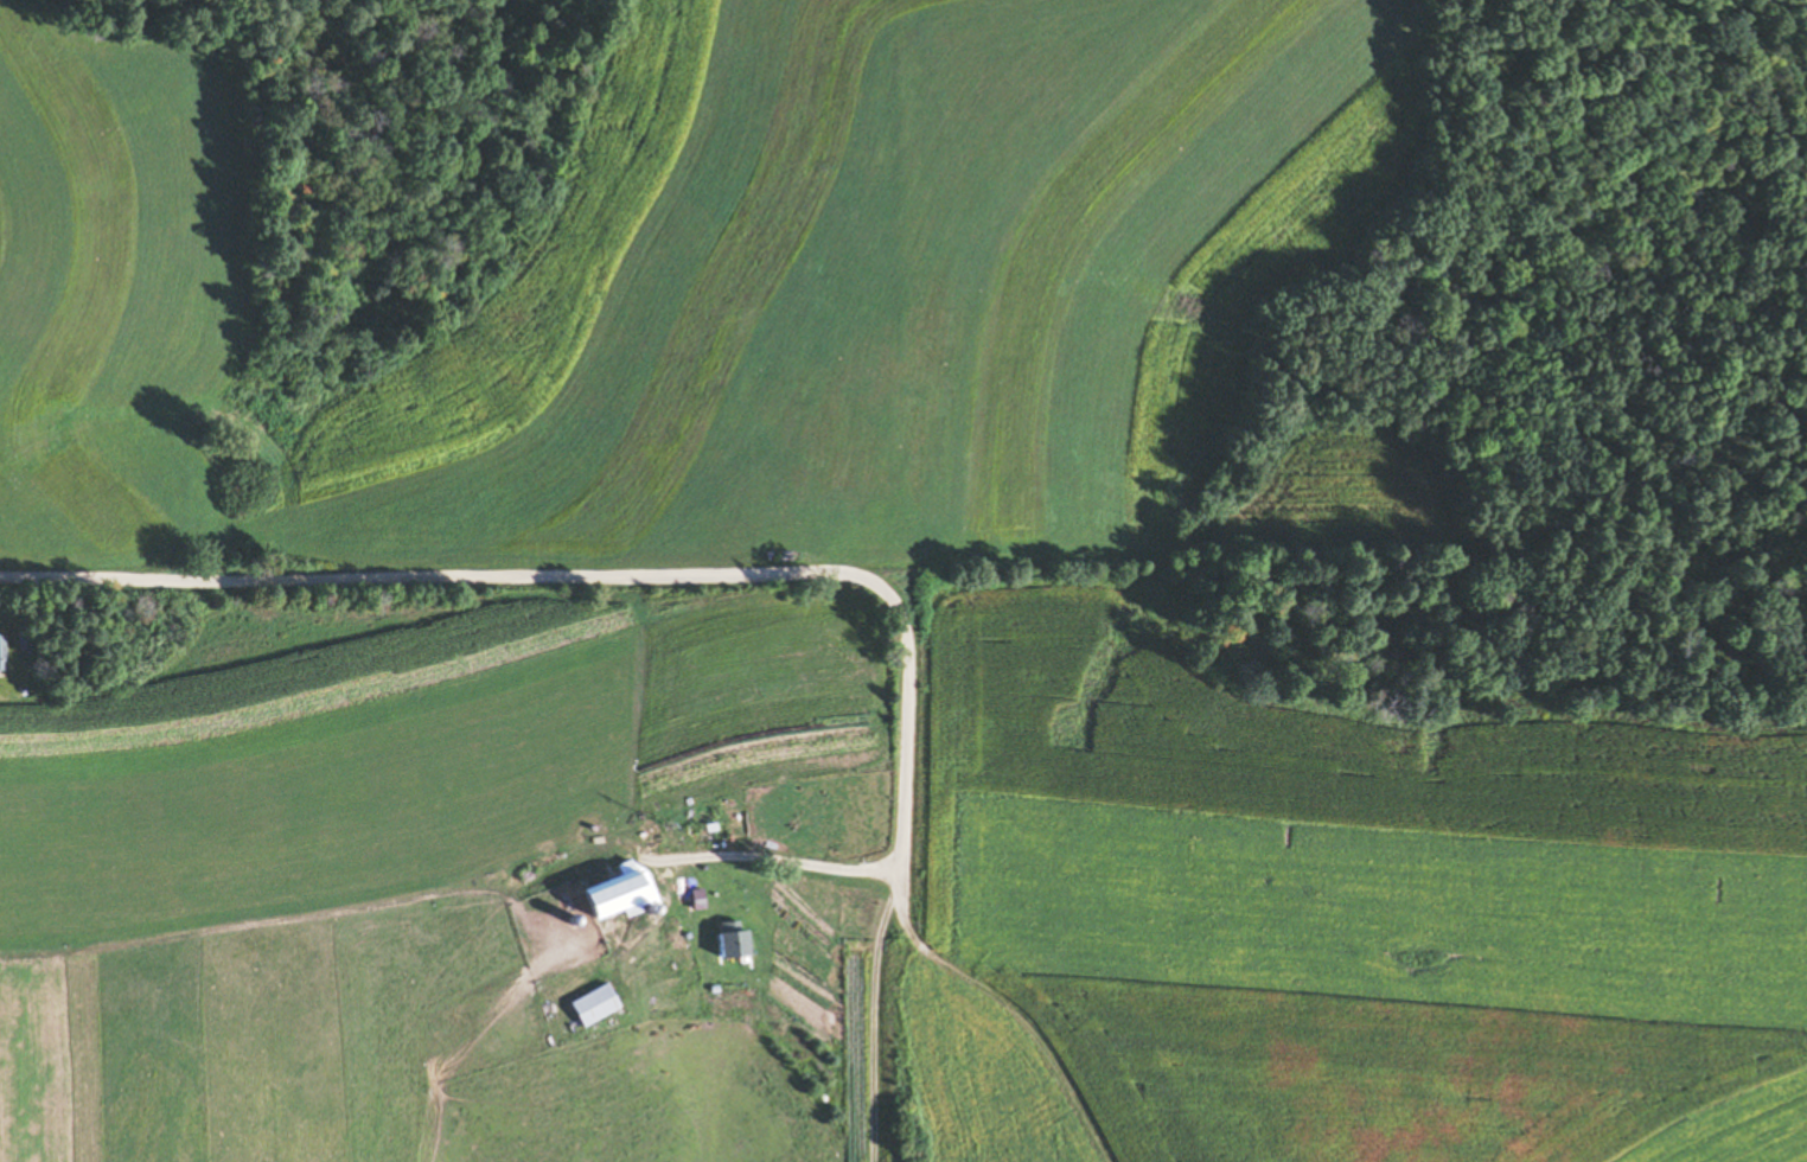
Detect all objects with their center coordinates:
crop: (714, 296)
crop: (1351, 497)
road: (702, 570)
crop: (360, 829)
building: (612, 892)
crop: (1333, 894)
building: (729, 939)
building: (588, 1005)
crop: (420, 1008)
crop: (970, 1078)
crop: (624, 1106)
crop: (1732, 1125)

